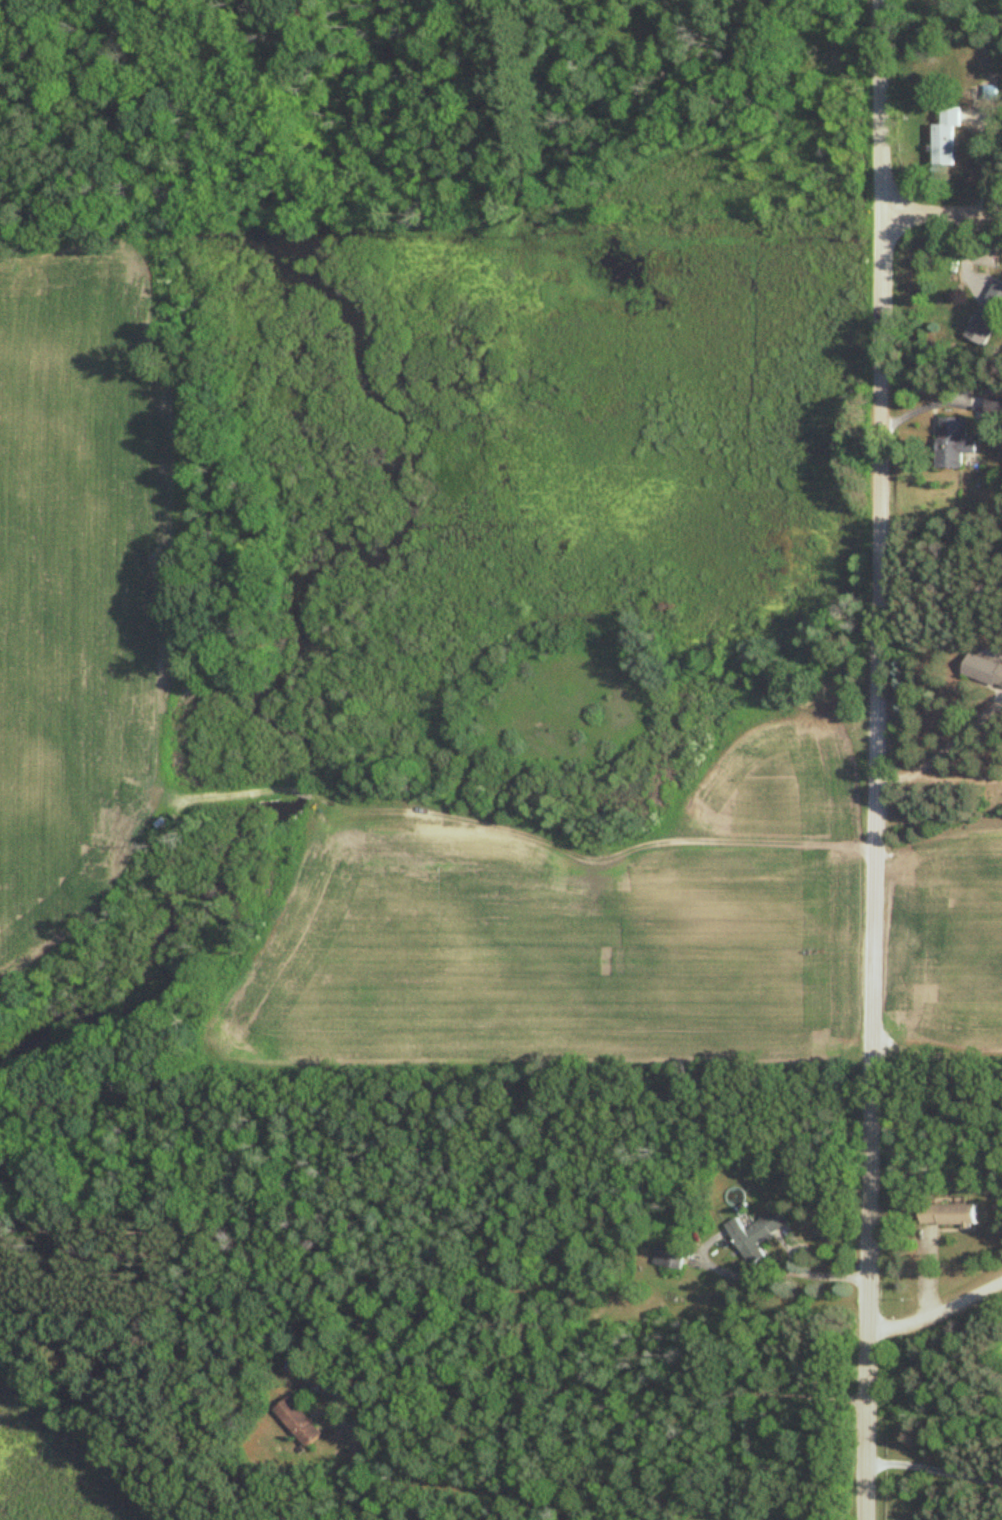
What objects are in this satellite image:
building: (943, 136)
road: (941, 216)
building: (988, 315)
road: (928, 402)
building: (952, 443)
building: (983, 672)
road: (956, 734)
road: (874, 760)
road: (892, 772)
road: (953, 782)
building: (946, 1216)
building: (754, 1235)
building: (668, 1256)
road: (936, 1312)
road: (631, 1391)
building: (298, 1423)
road: (933, 1471)

